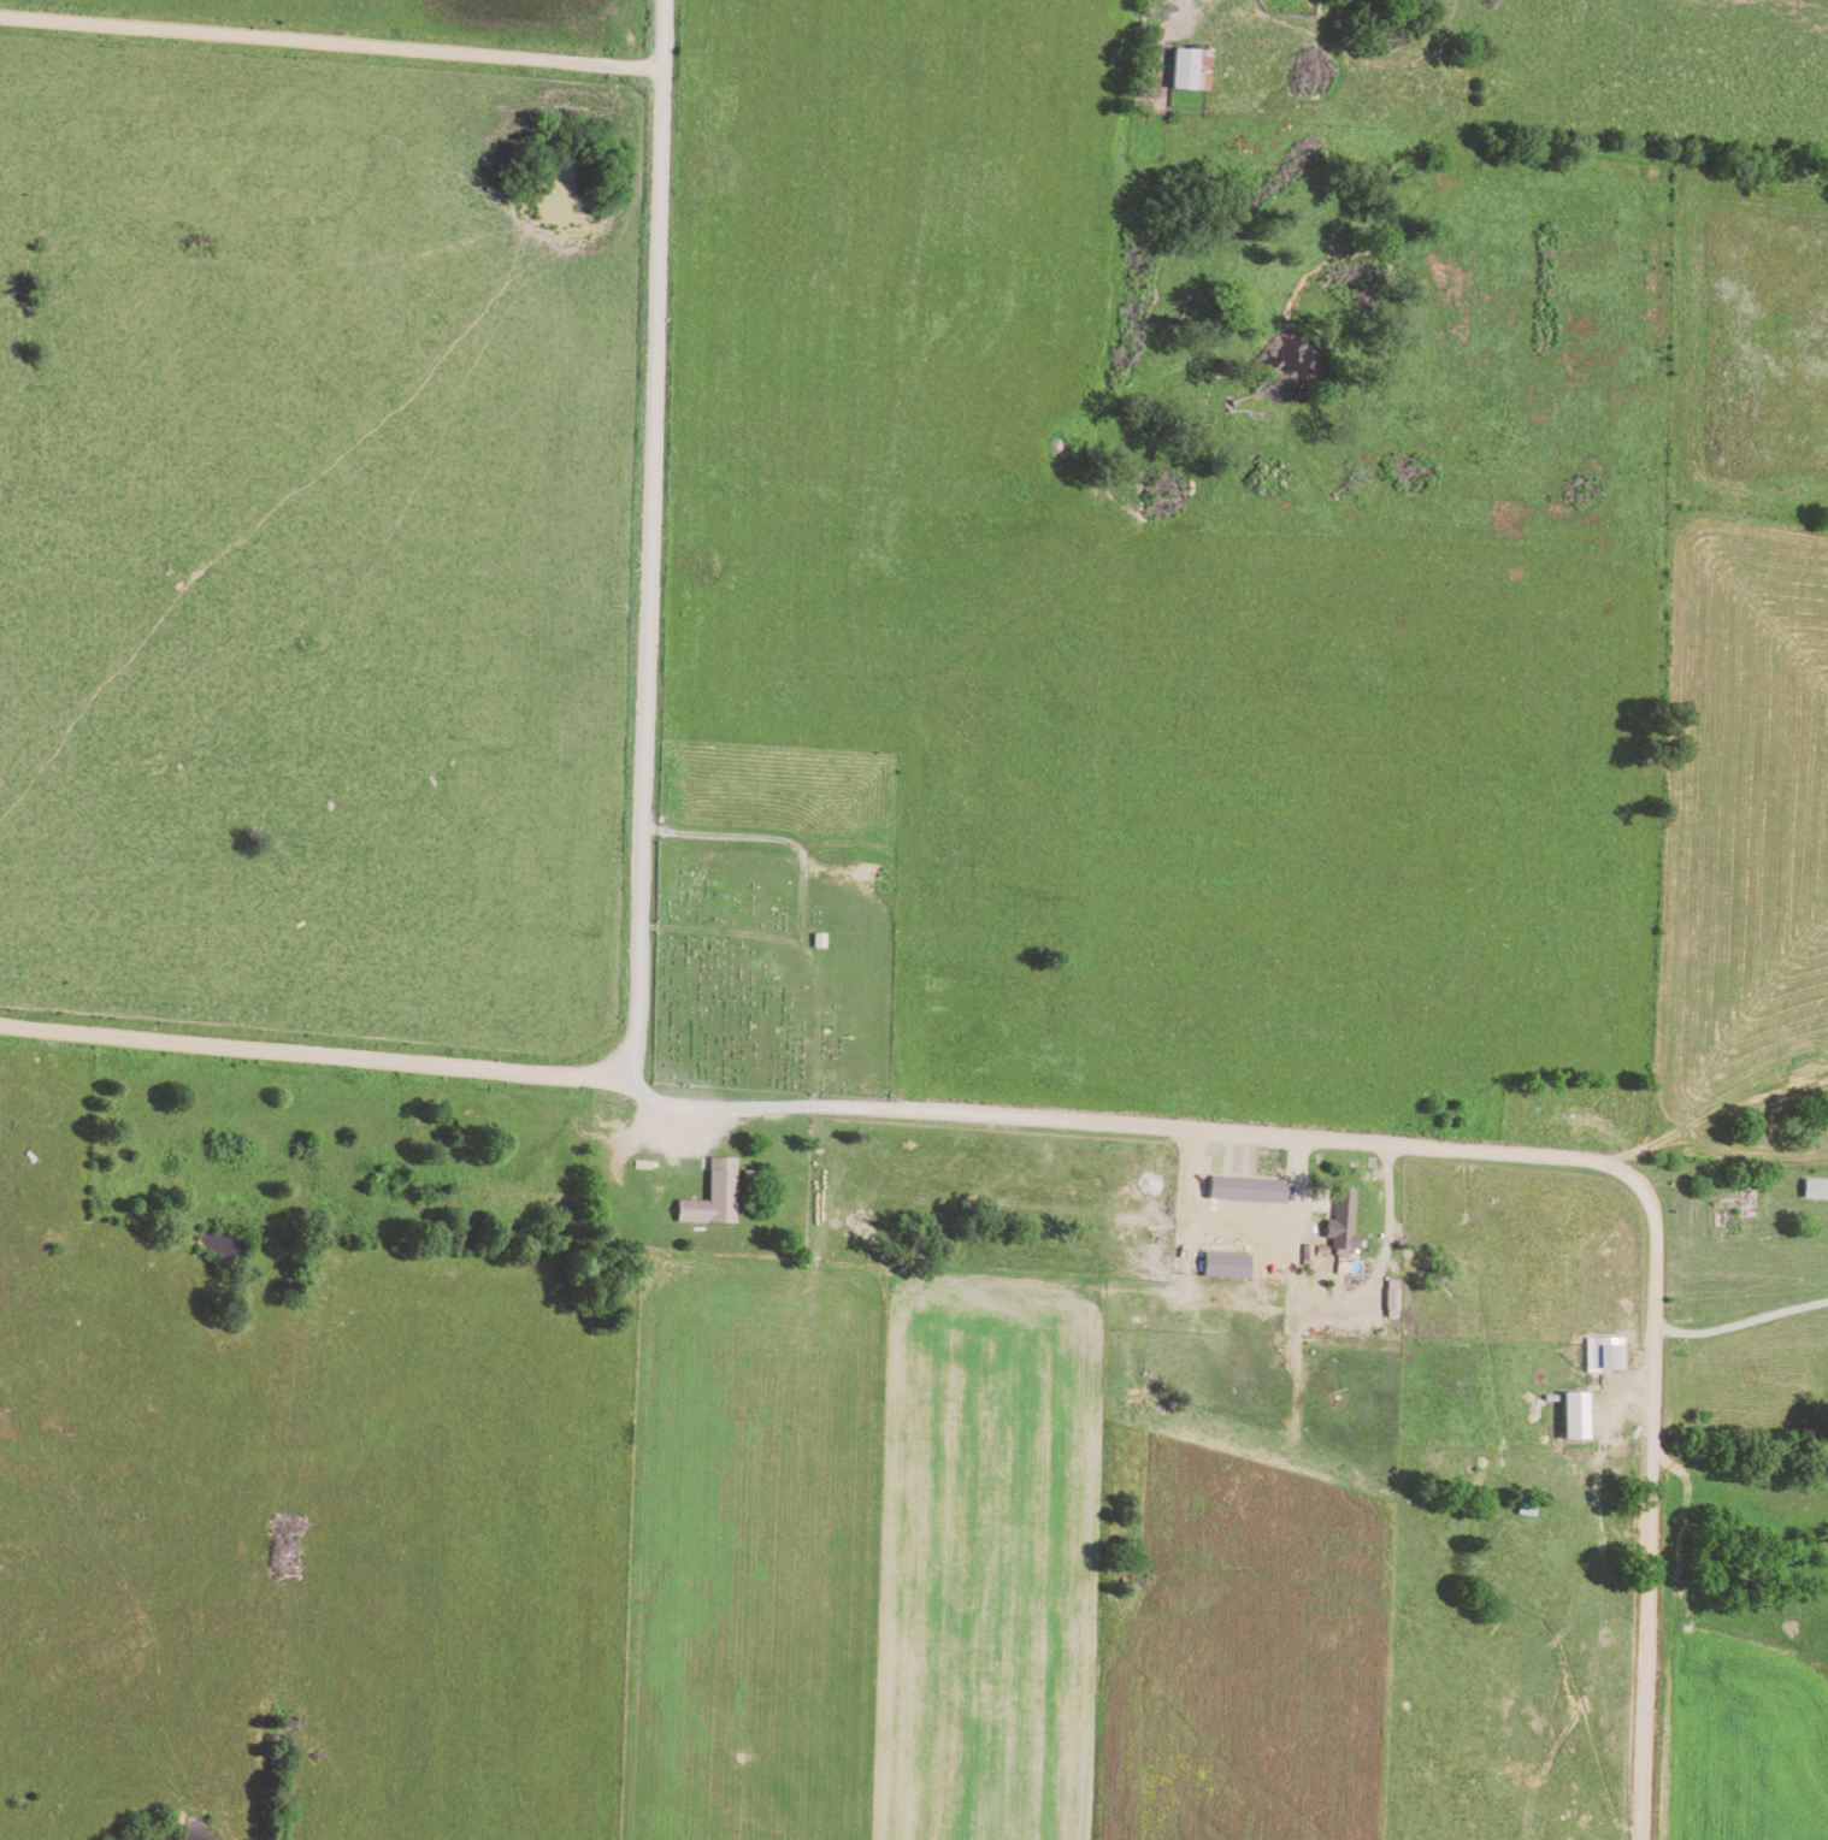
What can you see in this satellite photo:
road: (330, 42)
building: (1186, 67)
road: (650, 544)
road: (317, 1055)
road: (1466, 1152)
building: (1814, 1189)
building: (710, 1196)
building: (1340, 1225)
building: (1225, 1264)
building: (1391, 1298)
building: (1603, 1352)
building: (1574, 1416)

